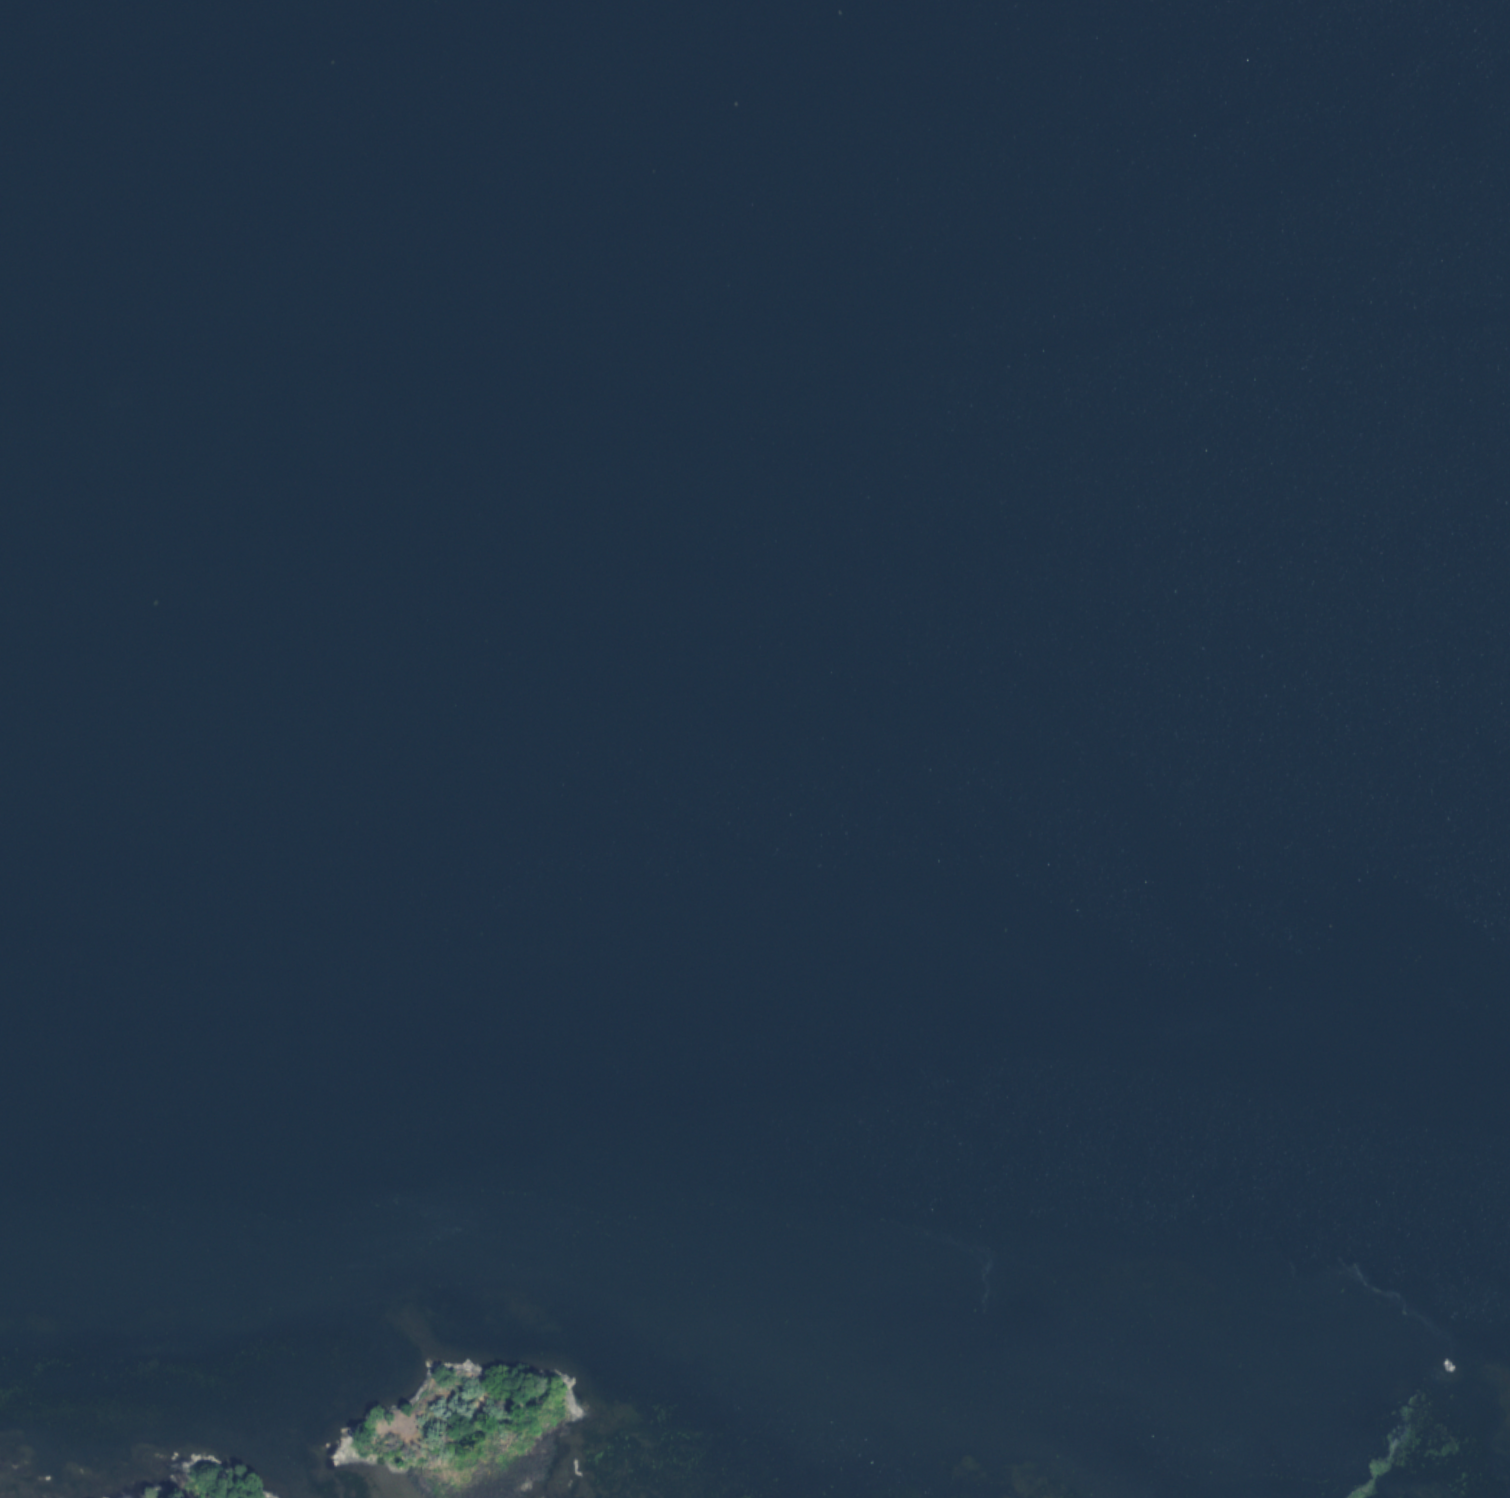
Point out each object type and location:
river: (758, 200)

